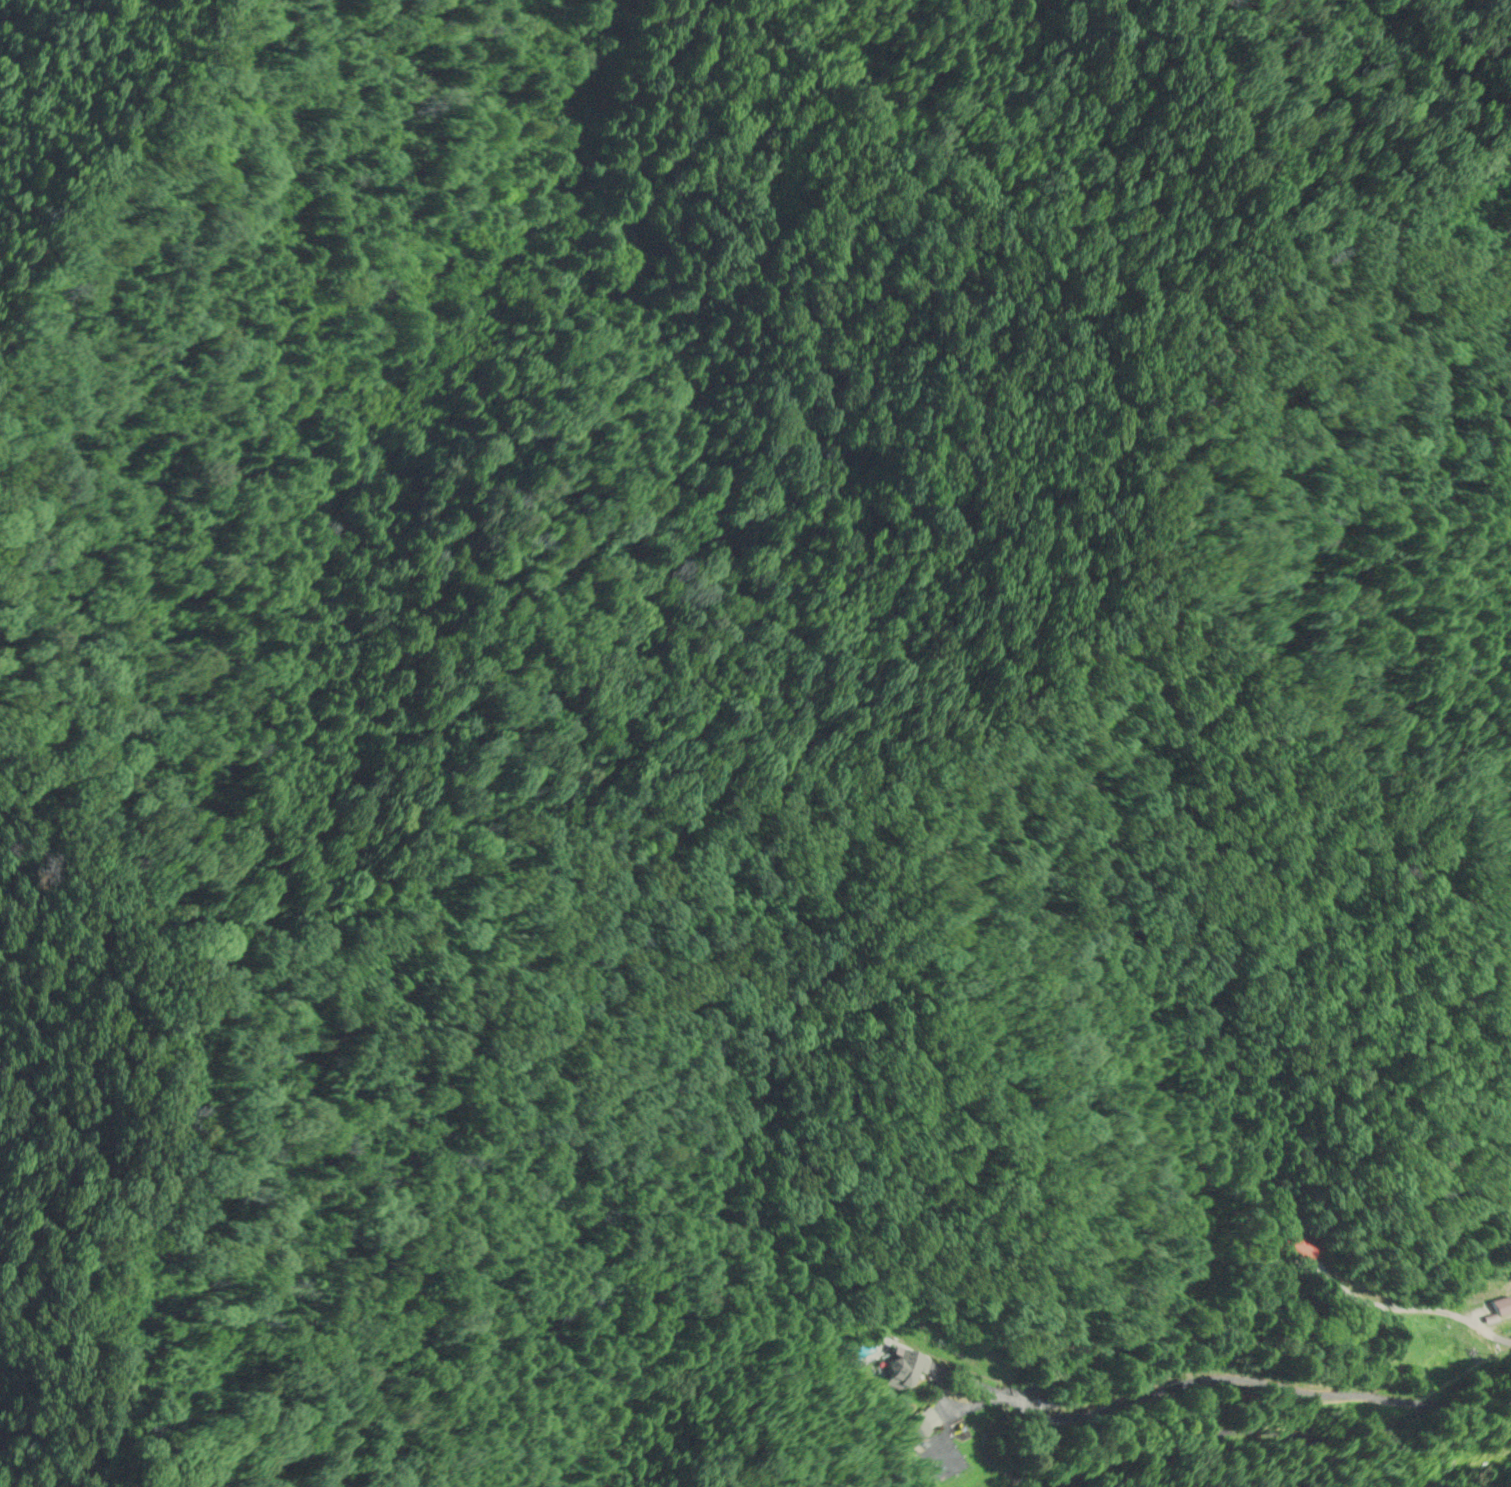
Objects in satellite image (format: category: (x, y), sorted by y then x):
building: (1292, 1250)
building: (1498, 1309)
building: (1452, 1333)
road: (1303, 1392)
road: (1061, 1417)

